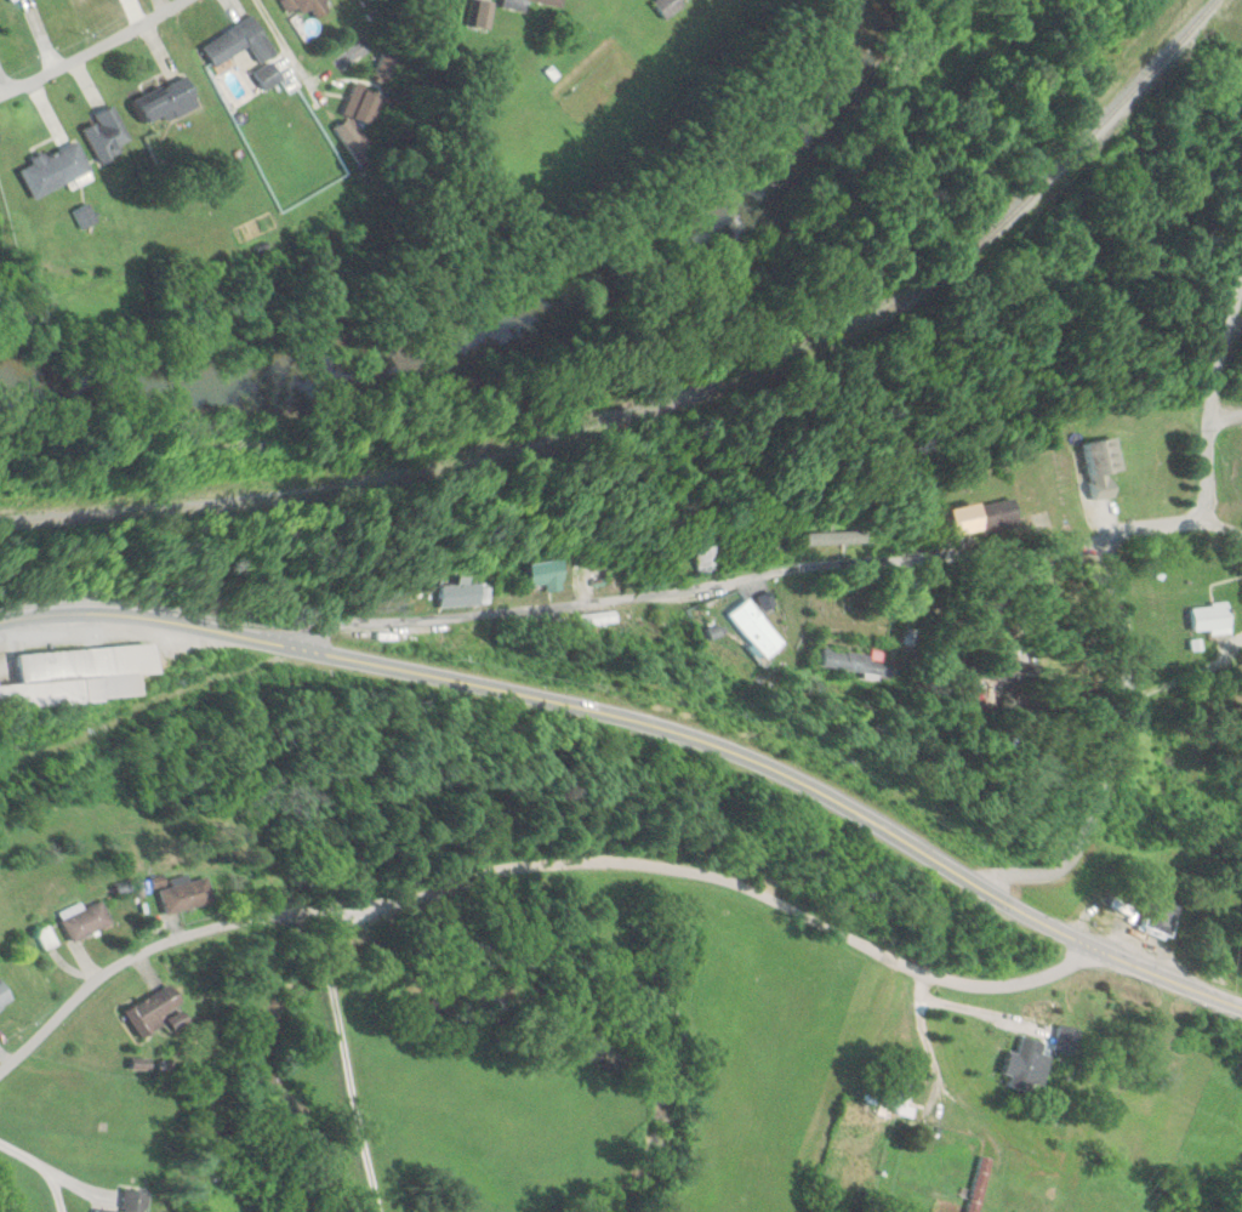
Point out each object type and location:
building: (312, 6)
building: (239, 42)
road: (91, 49)
building: (268, 75)
building: (166, 102)
building: (107, 133)
building: (53, 167)
river: (492, 305)
road: (1210, 386)
railway: (679, 409)
road: (1225, 414)
building: (1103, 462)
building: (999, 516)
road: (1224, 527)
building: (551, 574)
road: (744, 576)
building: (468, 596)
building: (1209, 619)
building: (764, 631)
building: (866, 665)
building: (84, 679)
road: (646, 726)
building: (0, 730)
road: (1115, 740)
road: (534, 864)
building: (187, 895)
building: (1155, 911)
building: (86, 921)
building: (5, 995)
road: (957, 1000)
building: (156, 1011)
road: (92, 1015)
road: (342, 1059)
building: (1025, 1063)
road: (935, 1075)
building: (979, 1184)
building: (132, 1201)

